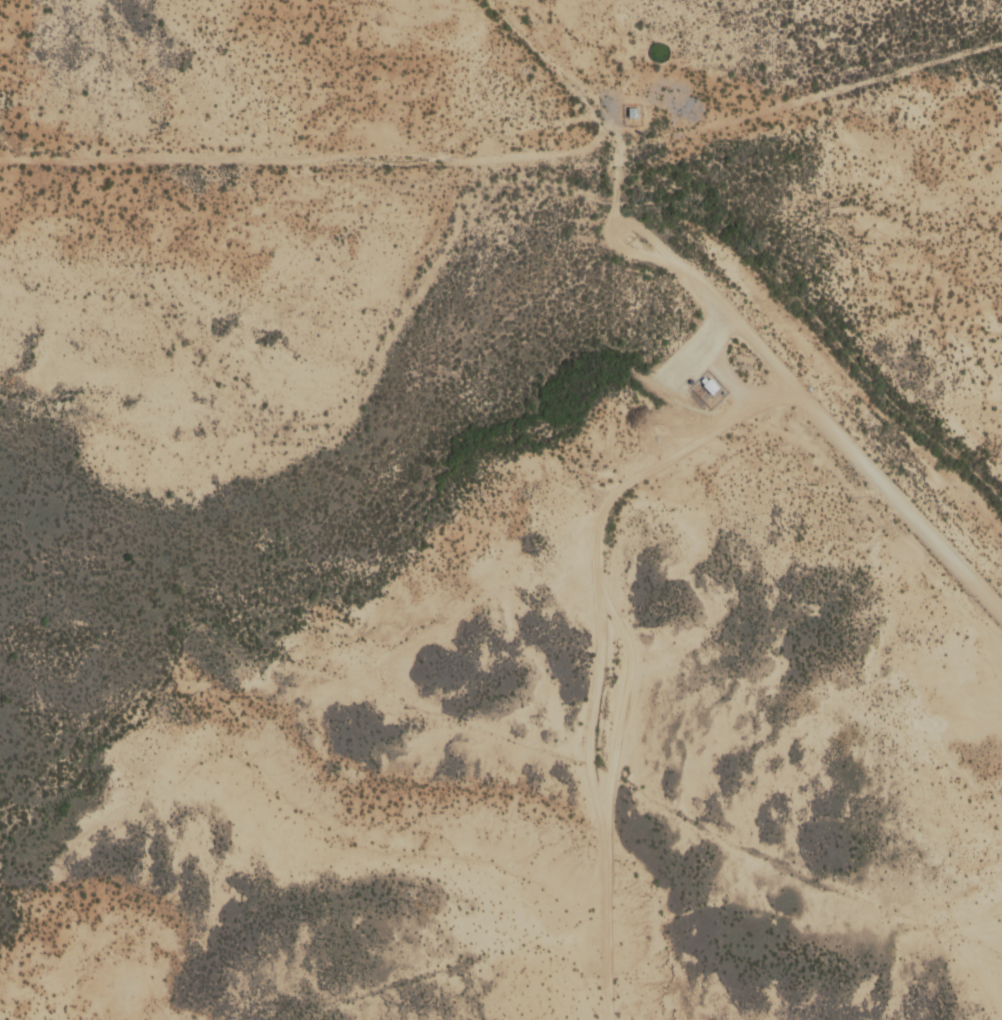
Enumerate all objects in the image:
road: (727, 326)
building: (709, 388)

